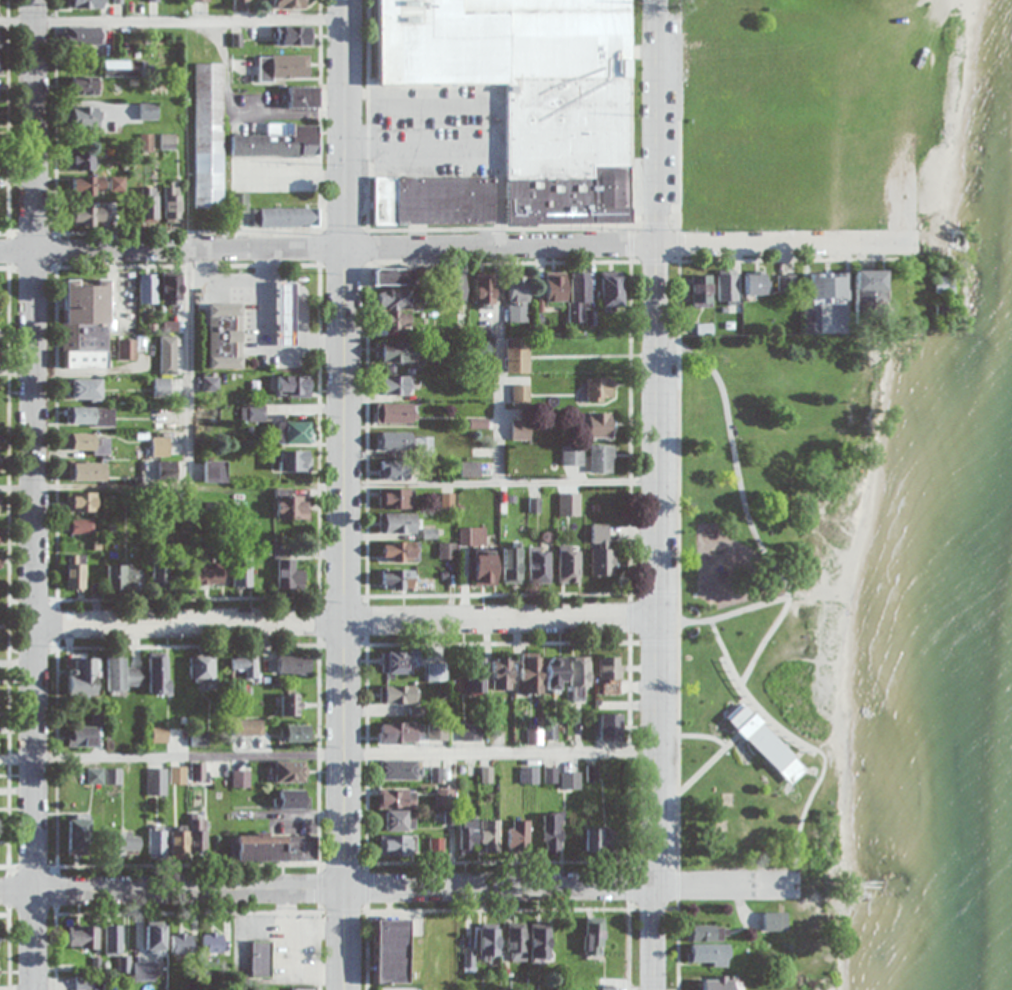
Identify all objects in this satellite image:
building: (200, 0)
building: (241, 2)
building: (86, 4)
building: (291, 4)
road: (172, 24)
building: (81, 35)
building: (293, 35)
building: (1, 40)
building: (0, 65)
building: (282, 67)
building: (125, 68)
building: (85, 85)
building: (532, 90)
building: (301, 97)
building: (148, 111)
building: (83, 116)
park: (964, 124)
building: (209, 135)
building: (168, 141)
building: (277, 141)
building: (81, 160)
building: (117, 184)
building: (87, 185)
building: (431, 202)
building: (239, 203)
building: (149, 204)
building: (172, 204)
building: (89, 216)
building: (284, 217)
road: (454, 246)
building: (392, 276)
building: (784, 281)
building: (755, 282)
building: (942, 284)
building: (825, 285)
building: (724, 287)
building: (455, 288)
building: (147, 289)
building: (171, 289)
building: (554, 289)
building: (609, 289)
building: (483, 290)
building: (698, 290)
building: (867, 290)
road: (500, 291)
building: (126, 293)
building: (577, 296)
building: (517, 297)
building: (396, 299)
building: (285, 314)
building: (394, 319)
building: (810, 319)
building: (84, 323)
building: (224, 336)
building: (480, 348)
building: (126, 349)
building: (395, 351)
building: (168, 355)
building: (515, 355)
road: (140, 361)
road: (185, 367)
building: (394, 385)
building: (293, 386)
building: (162, 388)
building: (84, 389)
building: (597, 390)
building: (0, 391)
building: (520, 395)
building: (396, 412)
building: (253, 413)
building: (90, 416)
building: (598, 425)
building: (520, 429)
building: (294, 432)
building: (405, 442)
building: (87, 443)
building: (571, 456)
building: (600, 458)
road: (731, 460)
building: (291, 461)
building: (168, 469)
building: (392, 469)
building: (86, 471)
building: (215, 471)
road: (342, 487)
road: (33, 494)
road: (652, 494)
road: (343, 495)
building: (396, 498)
building: (80, 502)
building: (290, 505)
building: (569, 508)
building: (398, 523)
building: (82, 526)
building: (0, 536)
building: (471, 536)
building: (400, 551)
building: (447, 551)
building: (601, 551)
building: (0, 560)
building: (510, 565)
building: (538, 565)
building: (567, 566)
building: (484, 567)
building: (287, 570)
building: (74, 572)
building: (240, 572)
building: (208, 574)
building: (163, 576)
building: (120, 577)
building: (398, 579)
road: (722, 610)
road: (343, 620)
road: (761, 639)
road: (16, 661)
building: (397, 662)
building: (292, 665)
building: (243, 667)
building: (201, 668)
building: (436, 672)
building: (114, 673)
building: (501, 673)
building: (529, 673)
building: (555, 673)
building: (81, 674)
building: (158, 674)
building: (475, 675)
building: (608, 676)
building: (134, 677)
building: (578, 677)
building: (398, 694)
building: (290, 705)
building: (609, 726)
building: (250, 727)
building: (470, 731)
building: (399, 732)
building: (550, 732)
building: (295, 733)
road: (690, 734)
building: (160, 735)
building: (81, 736)
building: (534, 737)
building: (200, 740)
road: (802, 741)
building: (764, 743)
road: (343, 753)
building: (398, 769)
building: (198, 771)
building: (288, 771)
road: (693, 774)
building: (178, 775)
building: (528, 775)
building: (569, 780)
building: (157, 782)
building: (397, 798)
building: (292, 799)
building: (399, 820)
building: (551, 832)
building: (78, 834)
building: (517, 834)
building: (199, 836)
building: (468, 836)
building: (489, 836)
building: (600, 840)
building: (157, 841)
building: (122, 842)
building: (179, 844)
building: (397, 845)
building: (436, 846)
building: (261, 848)
road: (395, 889)
building: (774, 921)
building: (705, 933)
building: (156, 936)
building: (82, 937)
building: (593, 938)
building: (113, 939)
building: (487, 941)
building: (213, 942)
building: (515, 942)
building: (538, 942)
building: (182, 943)
building: (389, 951)
building: (707, 954)
building: (261, 958)
building: (145, 971)
building: (303, 988)

